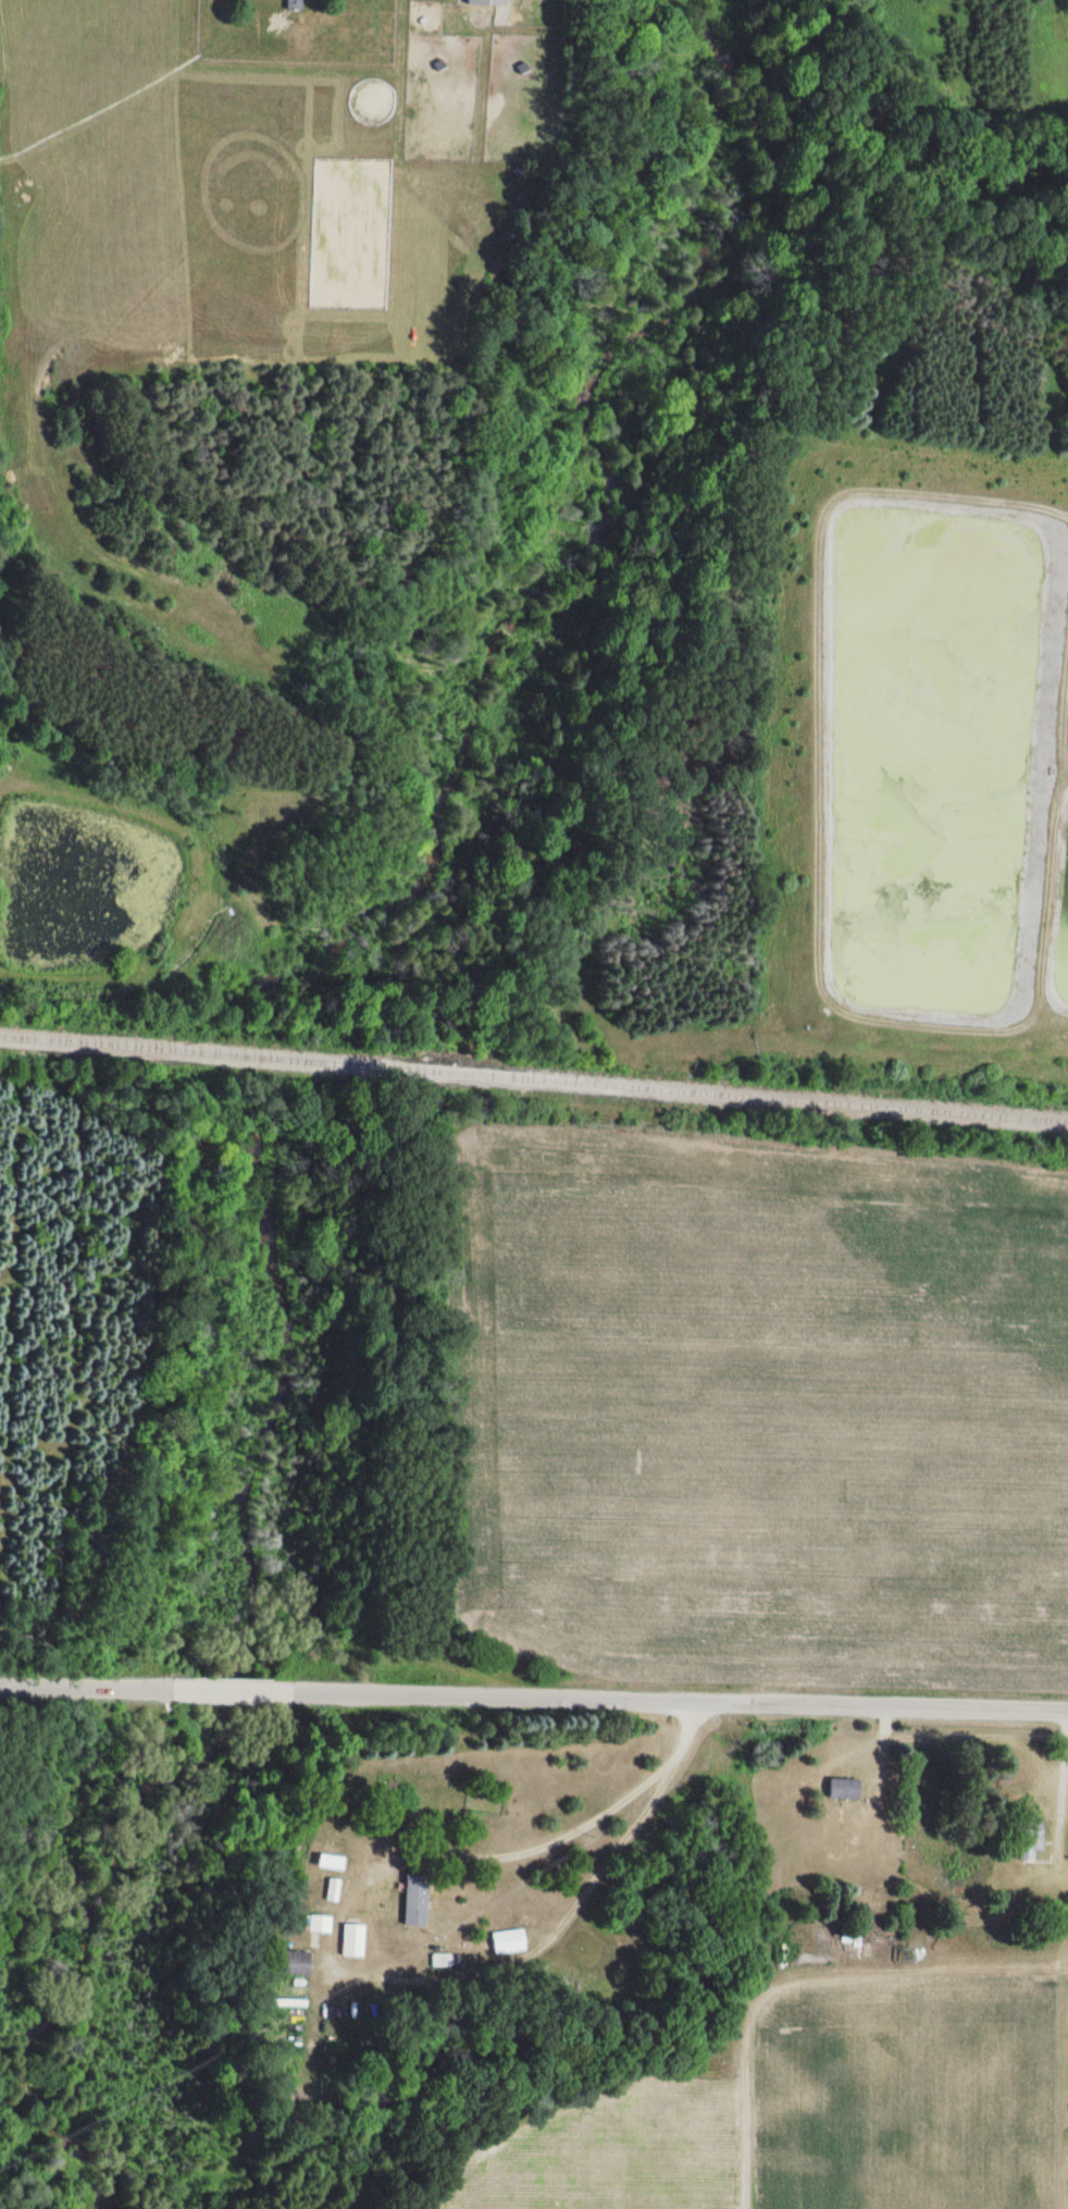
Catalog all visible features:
building: (487, 2)
building: (294, 3)
wastewater plant: (905, 745)
railway: (533, 1076)
road: (85, 1684)
road: (225, 1688)
road: (674, 1696)
building: (844, 1788)
building: (417, 1892)
building: (324, 1916)
building: (352, 1940)
building: (293, 1963)

